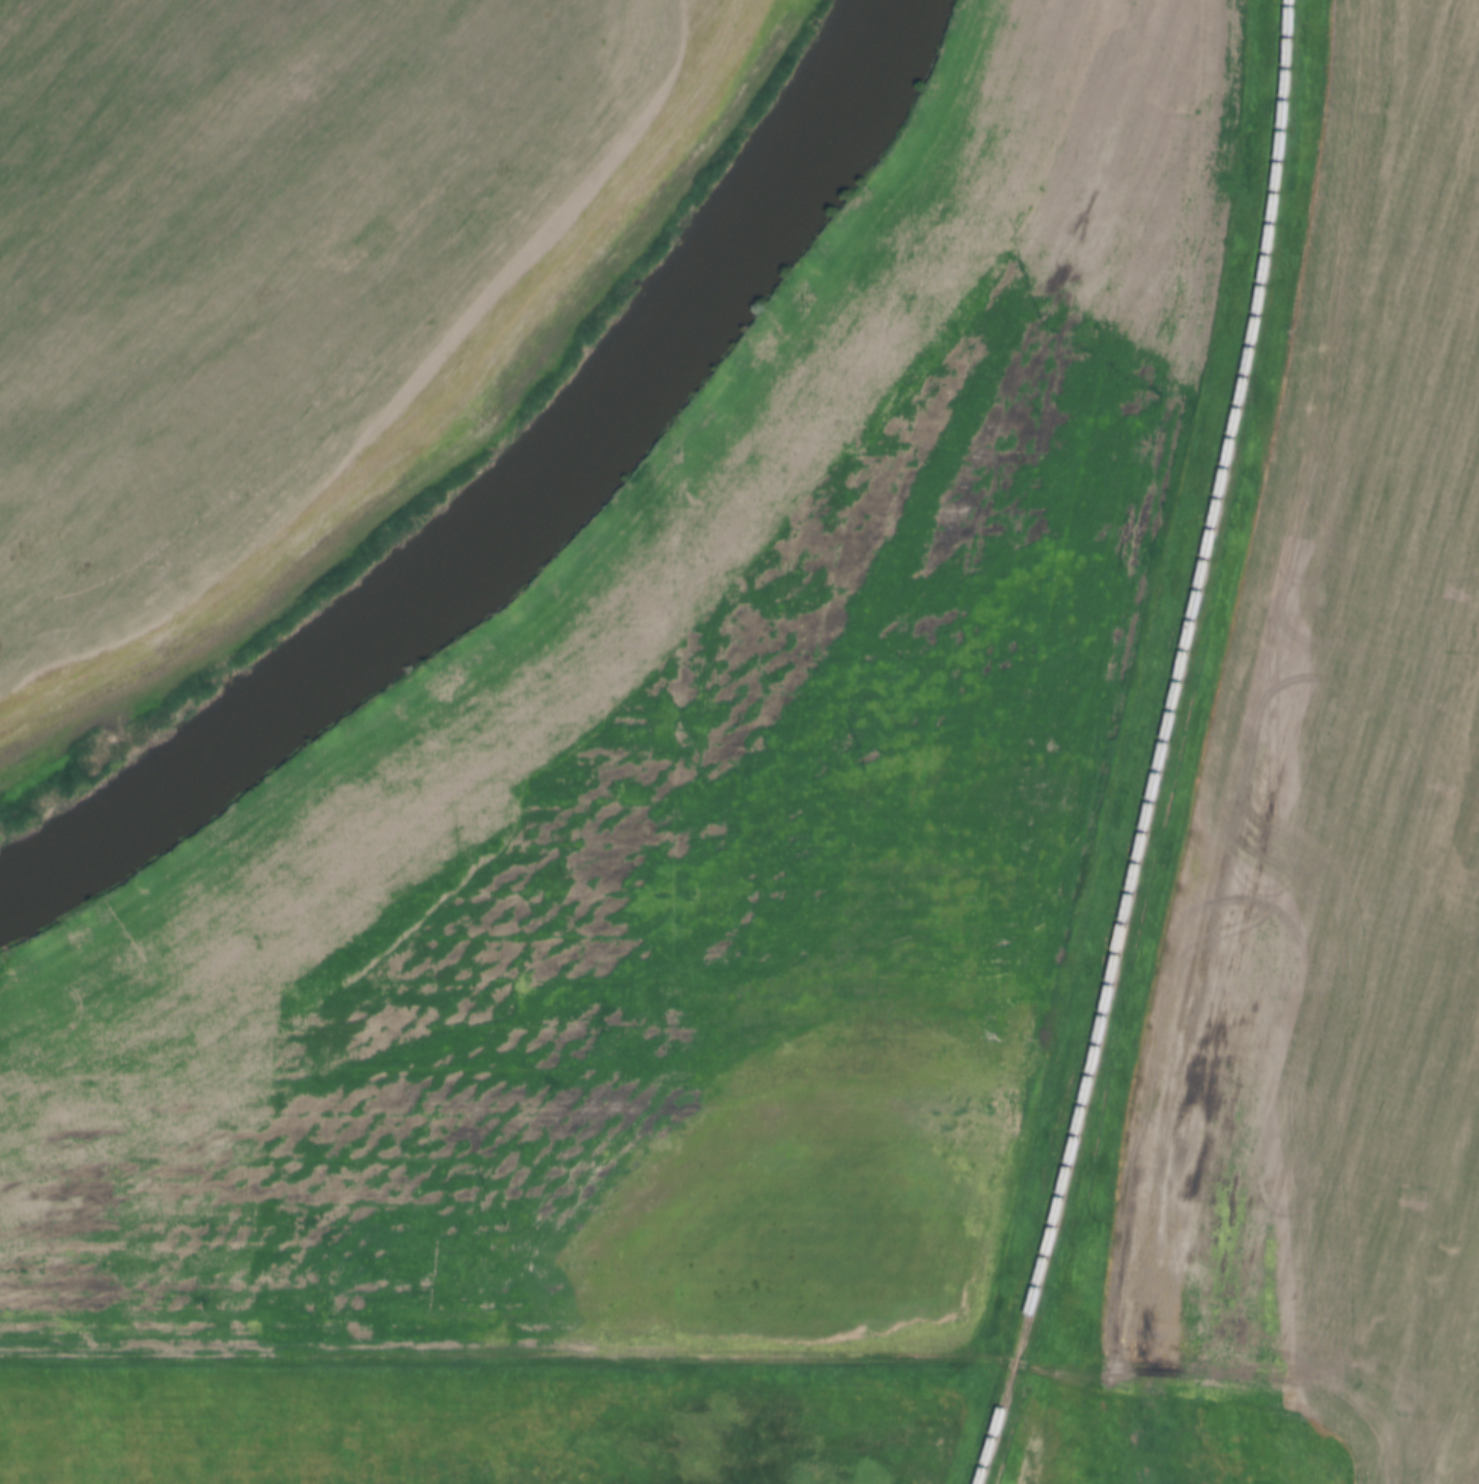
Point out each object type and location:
river: (519, 518)
railway: (1166, 747)

